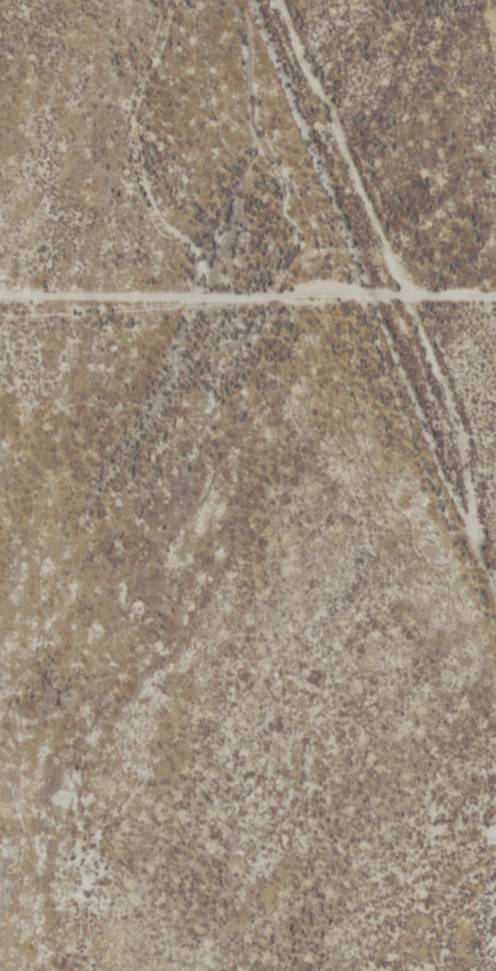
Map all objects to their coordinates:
road: (395, 240)
crop: (248, 485)

